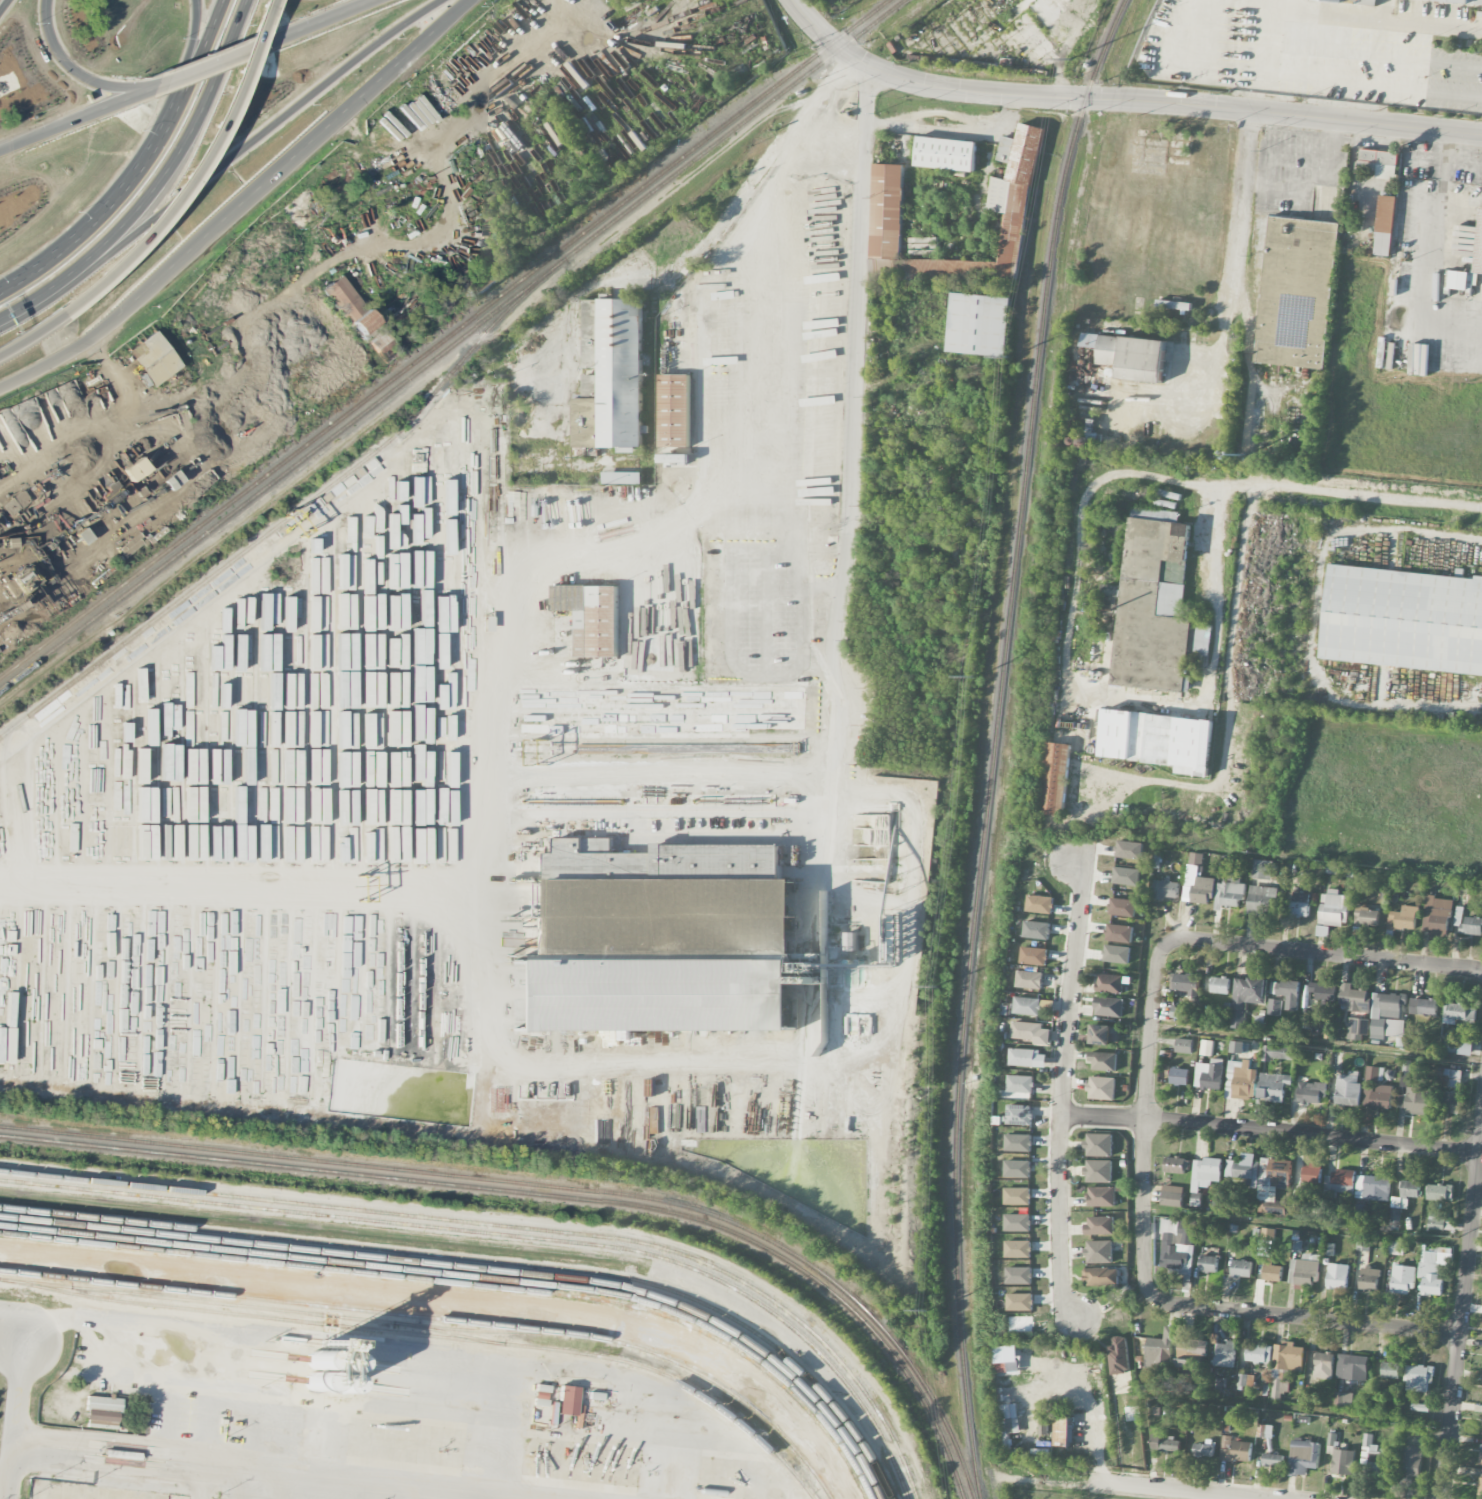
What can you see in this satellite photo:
building: (1333, 0)
building: (1352, 1)
building: (1460, 1)
building: (1369, 2)
road: (4, 6)
road: (323, 21)
road: (200, 50)
road: (192, 51)
power tower: (1070, 60)
road: (63, 64)
road: (210, 65)
road: (1123, 100)
road: (947, 114)
road: (75, 120)
road: (803, 125)
road: (270, 129)
road: (192, 140)
road: (1448, 147)
building: (946, 154)
road: (1424, 160)
building: (1380, 163)
road: (1463, 164)
road: (1443, 171)
building: (1010, 194)
road: (243, 204)
road: (169, 206)
road: (104, 211)
building: (887, 211)
road: (1239, 214)
building: (1385, 225)
building: (1479, 247)
road: (344, 248)
road: (1432, 272)
building: (1462, 280)
building: (1297, 292)
road: (51, 295)
road: (859, 299)
building: (349, 305)
building: (979, 324)
railway: (444, 338)
railway: (451, 343)
building: (1130, 356)
building: (153, 357)
power tower: (1008, 362)
building: (589, 364)
road: (1206, 369)
building: (675, 411)
road: (91, 427)
building: (674, 456)
building: (133, 469)
building: (622, 478)
road: (1347, 494)
road: (770, 498)
building: (15, 502)
railway: (289, 515)
road: (729, 588)
building: (1151, 607)
road: (765, 612)
building: (592, 617)
building: (1403, 620)
building: (1202, 638)
road: (820, 661)
power tower: (973, 675)
road: (1229, 688)
road: (1080, 689)
building: (1154, 740)
railway: (993, 743)
road: (659, 765)
building: (1054, 779)
building: (1129, 849)
building: (1195, 858)
building: (1261, 869)
building: (1126, 876)
building: (1199, 886)
building: (1165, 889)
building: (1229, 892)
building: (660, 894)
building: (1262, 900)
road: (197, 902)
building: (1040, 904)
building: (1300, 904)
building: (1122, 907)
building: (1333, 908)
building: (1439, 915)
building: (1365, 918)
building: (1404, 918)
building: (1037, 930)
building: (1322, 931)
building: (1119, 933)
road: (1319, 952)
building: (1117, 954)
building: (1034, 956)
building: (1030, 979)
building: (1109, 983)
building: (1185, 983)
building: (1220, 985)
power tower: (938, 987)
building: (1287, 992)
building: (1323, 993)
building: (653, 995)
building: (1245, 998)
building: (1354, 998)
building: (1027, 1006)
building: (1108, 1006)
building: (1423, 1006)
building: (1274, 1007)
road: (484, 1008)
building: (1177, 1012)
building: (1459, 1013)
building: (1386, 1015)
building: (1358, 1026)
building: (1024, 1030)
building: (1105, 1034)
building: (1184, 1046)
building: (1238, 1047)
building: (1278, 1053)
building: (1022, 1057)
building: (1103, 1061)
building: (1209, 1074)
building: (1179, 1076)
building: (1448, 1077)
building: (1240, 1080)
building: (1020, 1084)
building: (1273, 1085)
road: (1062, 1088)
building: (1101, 1088)
building: (1348, 1089)
building: (1376, 1089)
building: (1311, 1093)
building: (1414, 1098)
building: (1449, 1102)
building: (1019, 1114)
road: (1144, 1118)
road: (1270, 1129)
building: (1018, 1143)
building: (1098, 1145)
building: (1175, 1165)
building: (1017, 1168)
building: (1244, 1169)
building: (1098, 1171)
building: (1312, 1173)
building: (1205, 1174)
building: (1340, 1182)
building: (1273, 1185)
railway: (557, 1186)
building: (1372, 1187)
building: (1440, 1192)
railway: (550, 1194)
building: (1406, 1195)
building: (1017, 1196)
building: (1101, 1196)
building: (1171, 1196)
building: (1436, 1220)
building: (1018, 1222)
building: (1100, 1225)
railway: (517, 1226)
railway: (510, 1234)
building: (1177, 1246)
building: (1396, 1247)
building: (1018, 1249)
building: (1099, 1251)
railway: (493, 1259)
building: (1208, 1263)
railway: (486, 1267)
building: (1242, 1268)
building: (1305, 1270)
building: (1272, 1271)
building: (1432, 1272)
building: (1019, 1275)
building: (1100, 1275)
railway: (479, 1276)
building: (1338, 1276)
building: (1369, 1278)
building: (1403, 1279)
railway: (472, 1282)
railway: (133, 1288)
building: (1020, 1302)
railway: (247, 1305)
power tower: (930, 1309)
road: (16, 1310)
road: (1299, 1317)
road: (1461, 1317)
railway: (445, 1319)
railway: (471, 1329)
railway: (430, 1334)
building: (1161, 1349)
building: (1191, 1353)
building: (1259, 1353)
building: (1225, 1354)
building: (1286, 1361)
building: (1011, 1364)
building: (1324, 1365)
building: (1352, 1367)
building: (1391, 1370)
road: (179, 1378)
building: (567, 1399)
building: (1344, 1400)
building: (103, 1403)
road: (21, 1405)
road: (1089, 1413)
road: (167, 1414)
building: (102, 1417)
road: (206, 1420)
building: (1008, 1420)
building: (1044, 1423)
building: (1265, 1431)
building: (1165, 1444)
building: (1203, 1449)
building: (1235, 1450)
building: (1481, 1453)
building: (1376, 1456)
building: (1303, 1457)
building: (1273, 1459)
building: (1412, 1460)
building: (1343, 1461)
road: (304, 1468)
road: (5, 1478)
road: (198, 1478)
building: (1480, 1483)
road: (1167, 1490)
park: (1036, 1495)

